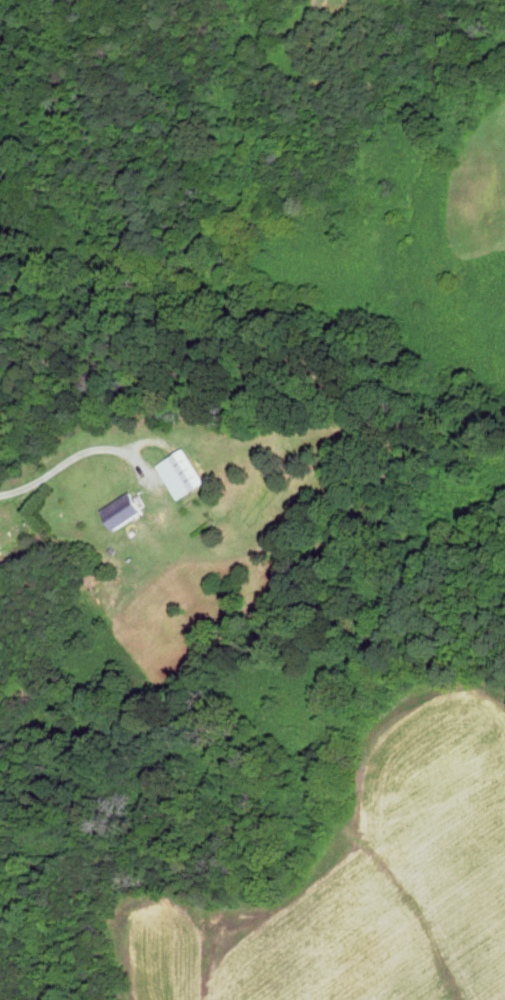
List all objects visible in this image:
building: (185, 473)
road: (56, 477)
building: (130, 509)

